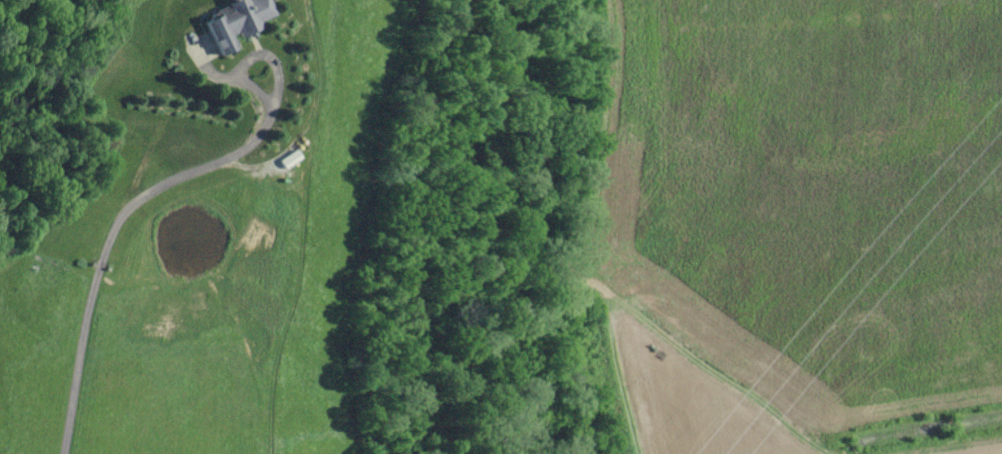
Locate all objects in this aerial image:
building: (238, 22)
road: (109, 242)

